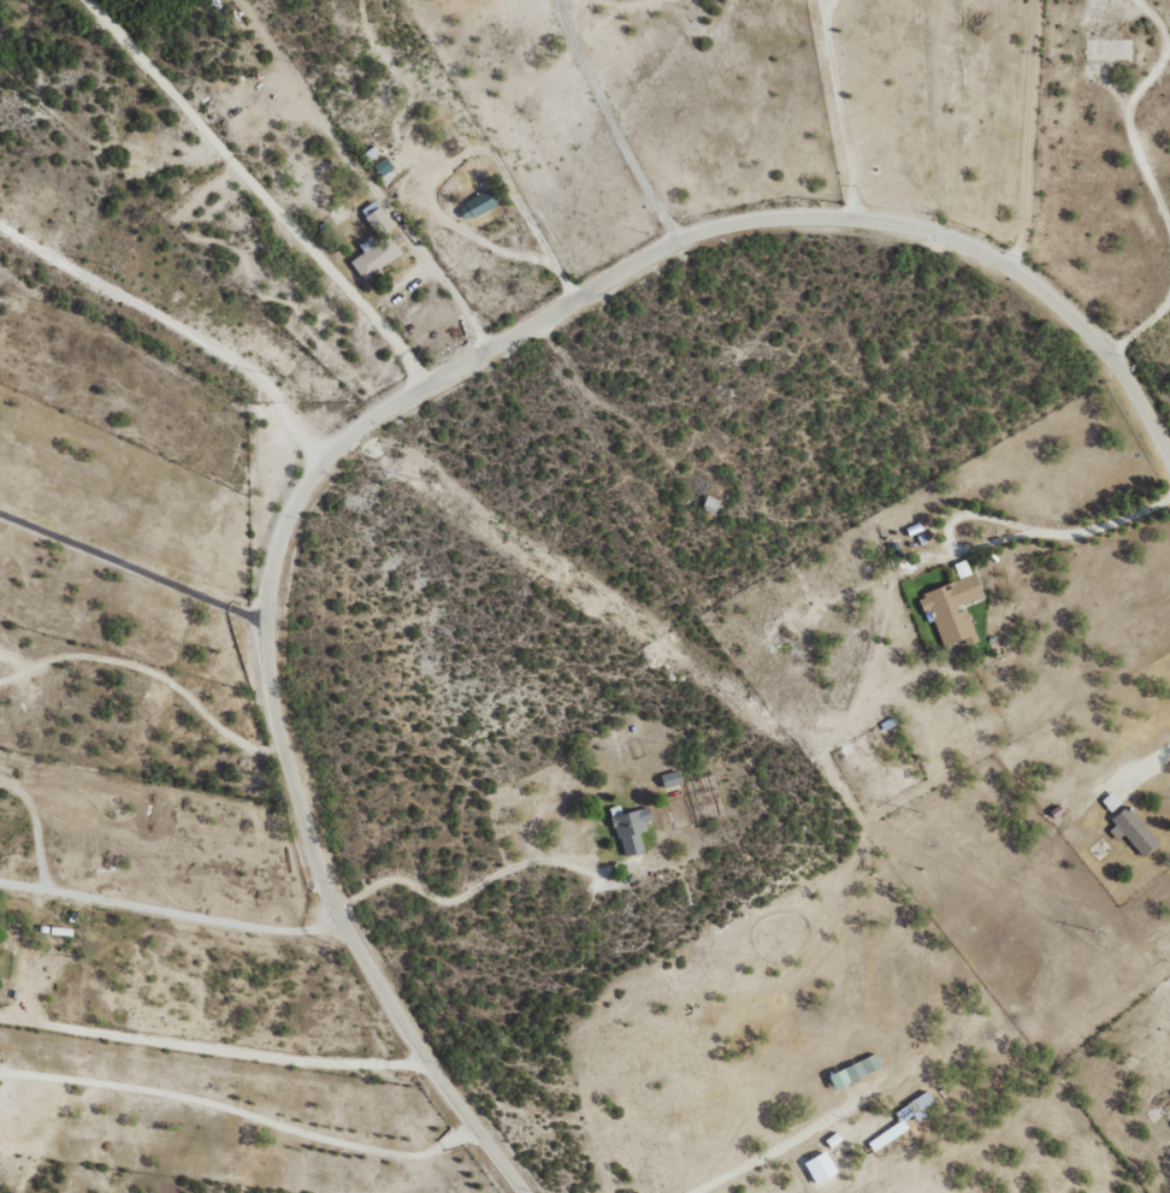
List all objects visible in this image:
building: (384, 166)
building: (477, 205)
building: (377, 243)
road: (461, 435)
building: (952, 607)
building: (670, 779)
building: (1111, 802)
building: (631, 831)
building: (1133, 832)
building: (856, 1071)
building: (903, 1121)
building: (820, 1168)

